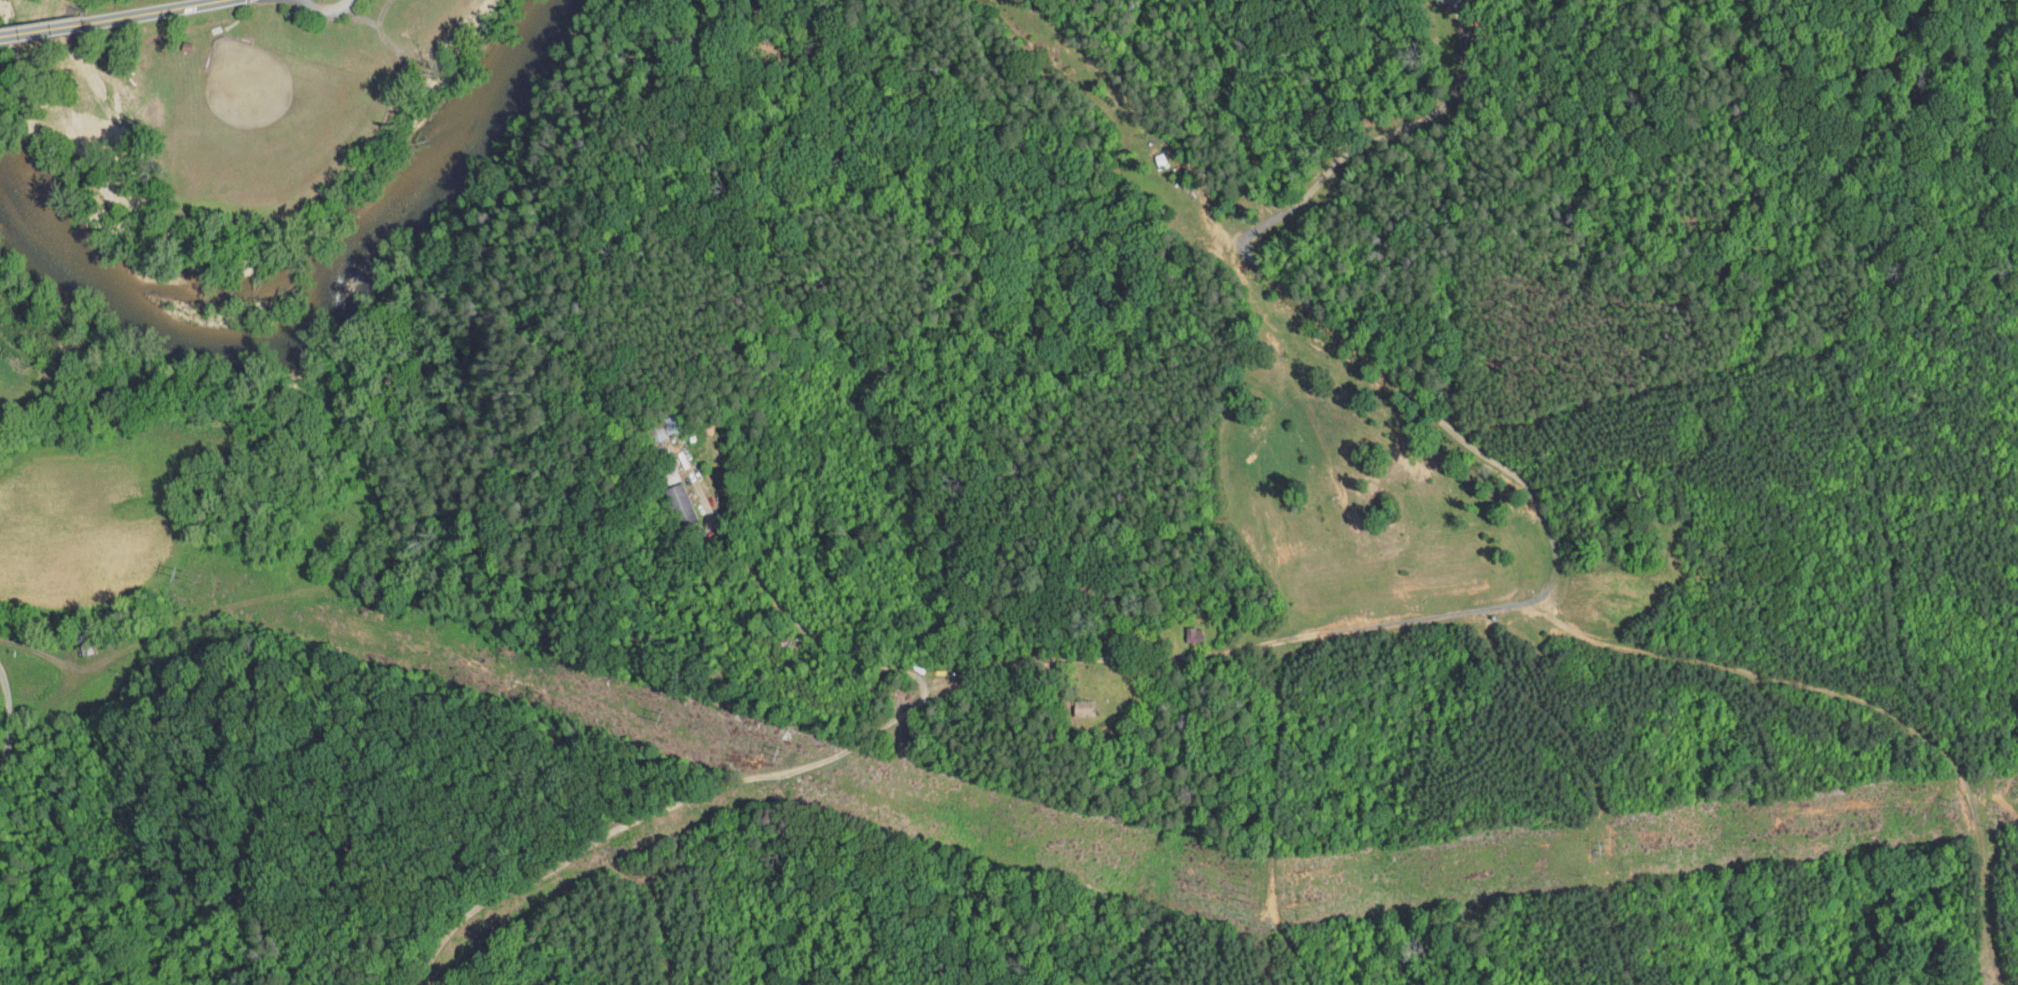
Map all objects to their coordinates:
road: (327, 10)
road: (150, 11)
road: (240, 16)
road: (359, 16)
road: (42, 29)
building: (188, 46)
road: (424, 52)
park: (254, 115)
road: (1372, 139)
river: (315, 312)
building: (668, 499)
road: (1571, 541)
road: (785, 609)
building: (1180, 628)
road: (971, 682)
road: (5, 697)

